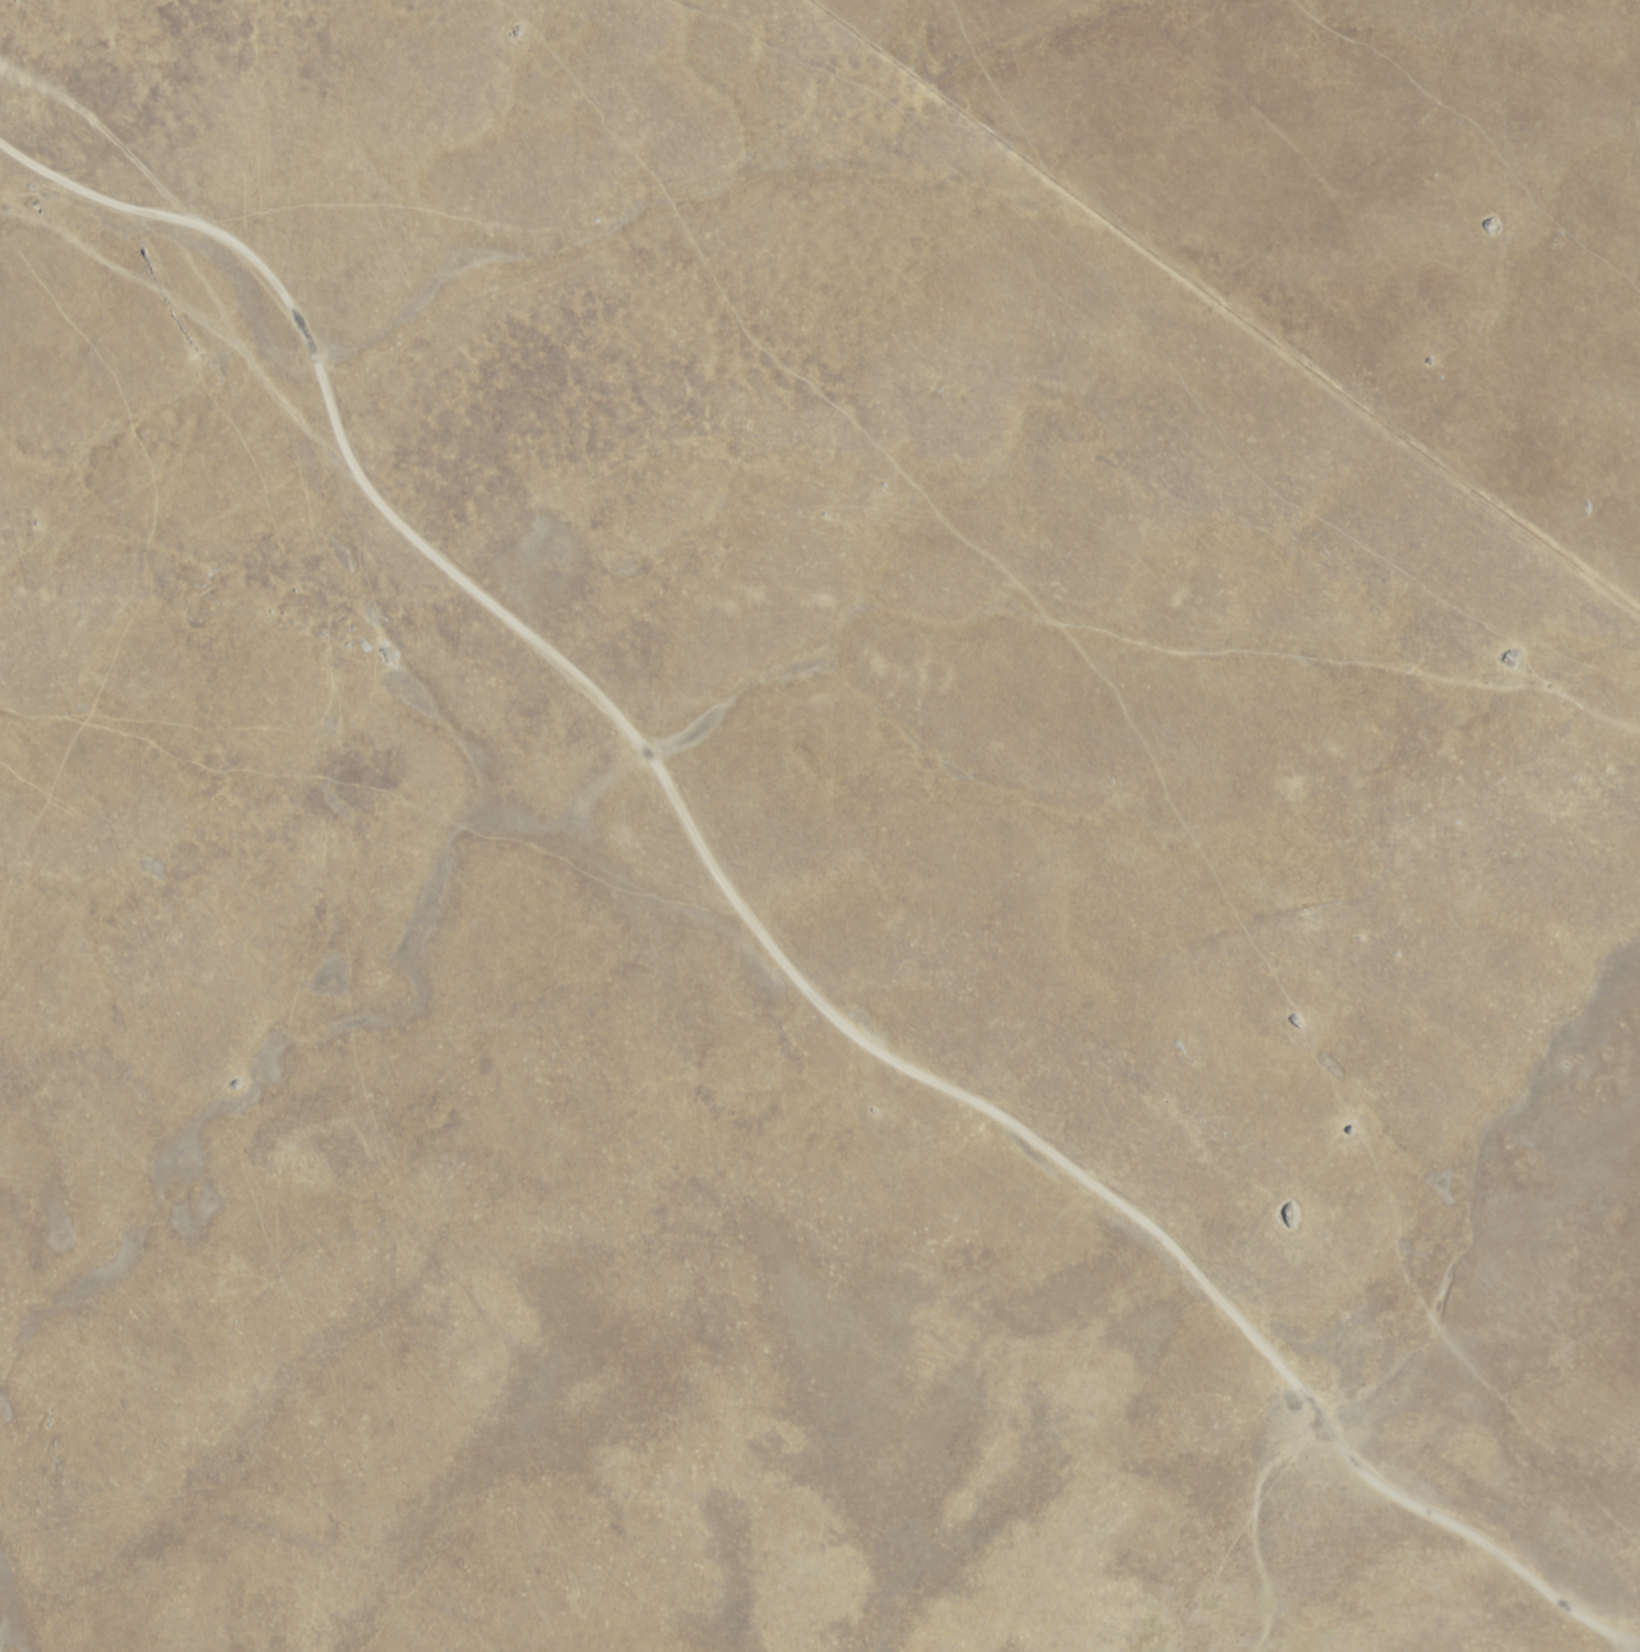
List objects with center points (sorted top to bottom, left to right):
road: (739, 938)

